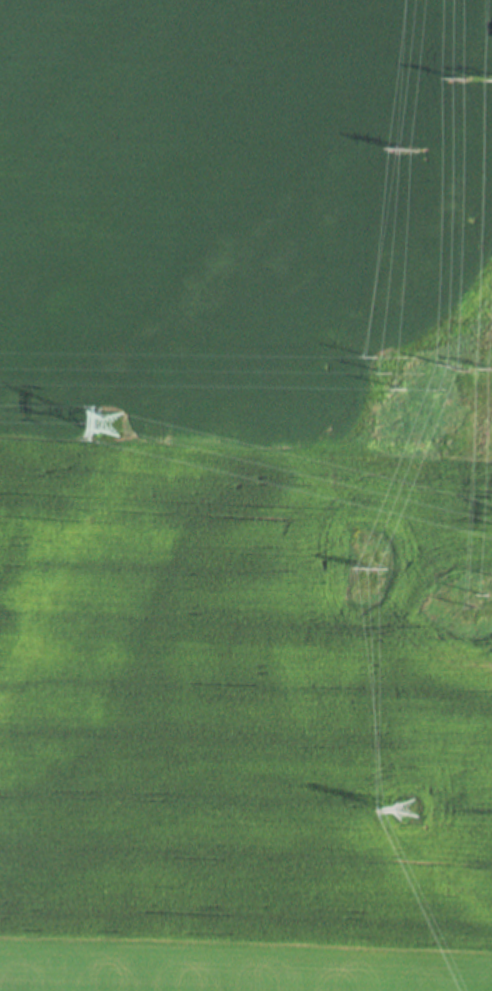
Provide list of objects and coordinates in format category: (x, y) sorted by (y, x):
power tower: (464, 78)
power tower: (409, 149)
power tower: (458, 367)
power tower: (389, 373)
power tower: (111, 423)
power tower: (374, 569)
power tower: (490, 592)
power tower: (405, 806)

